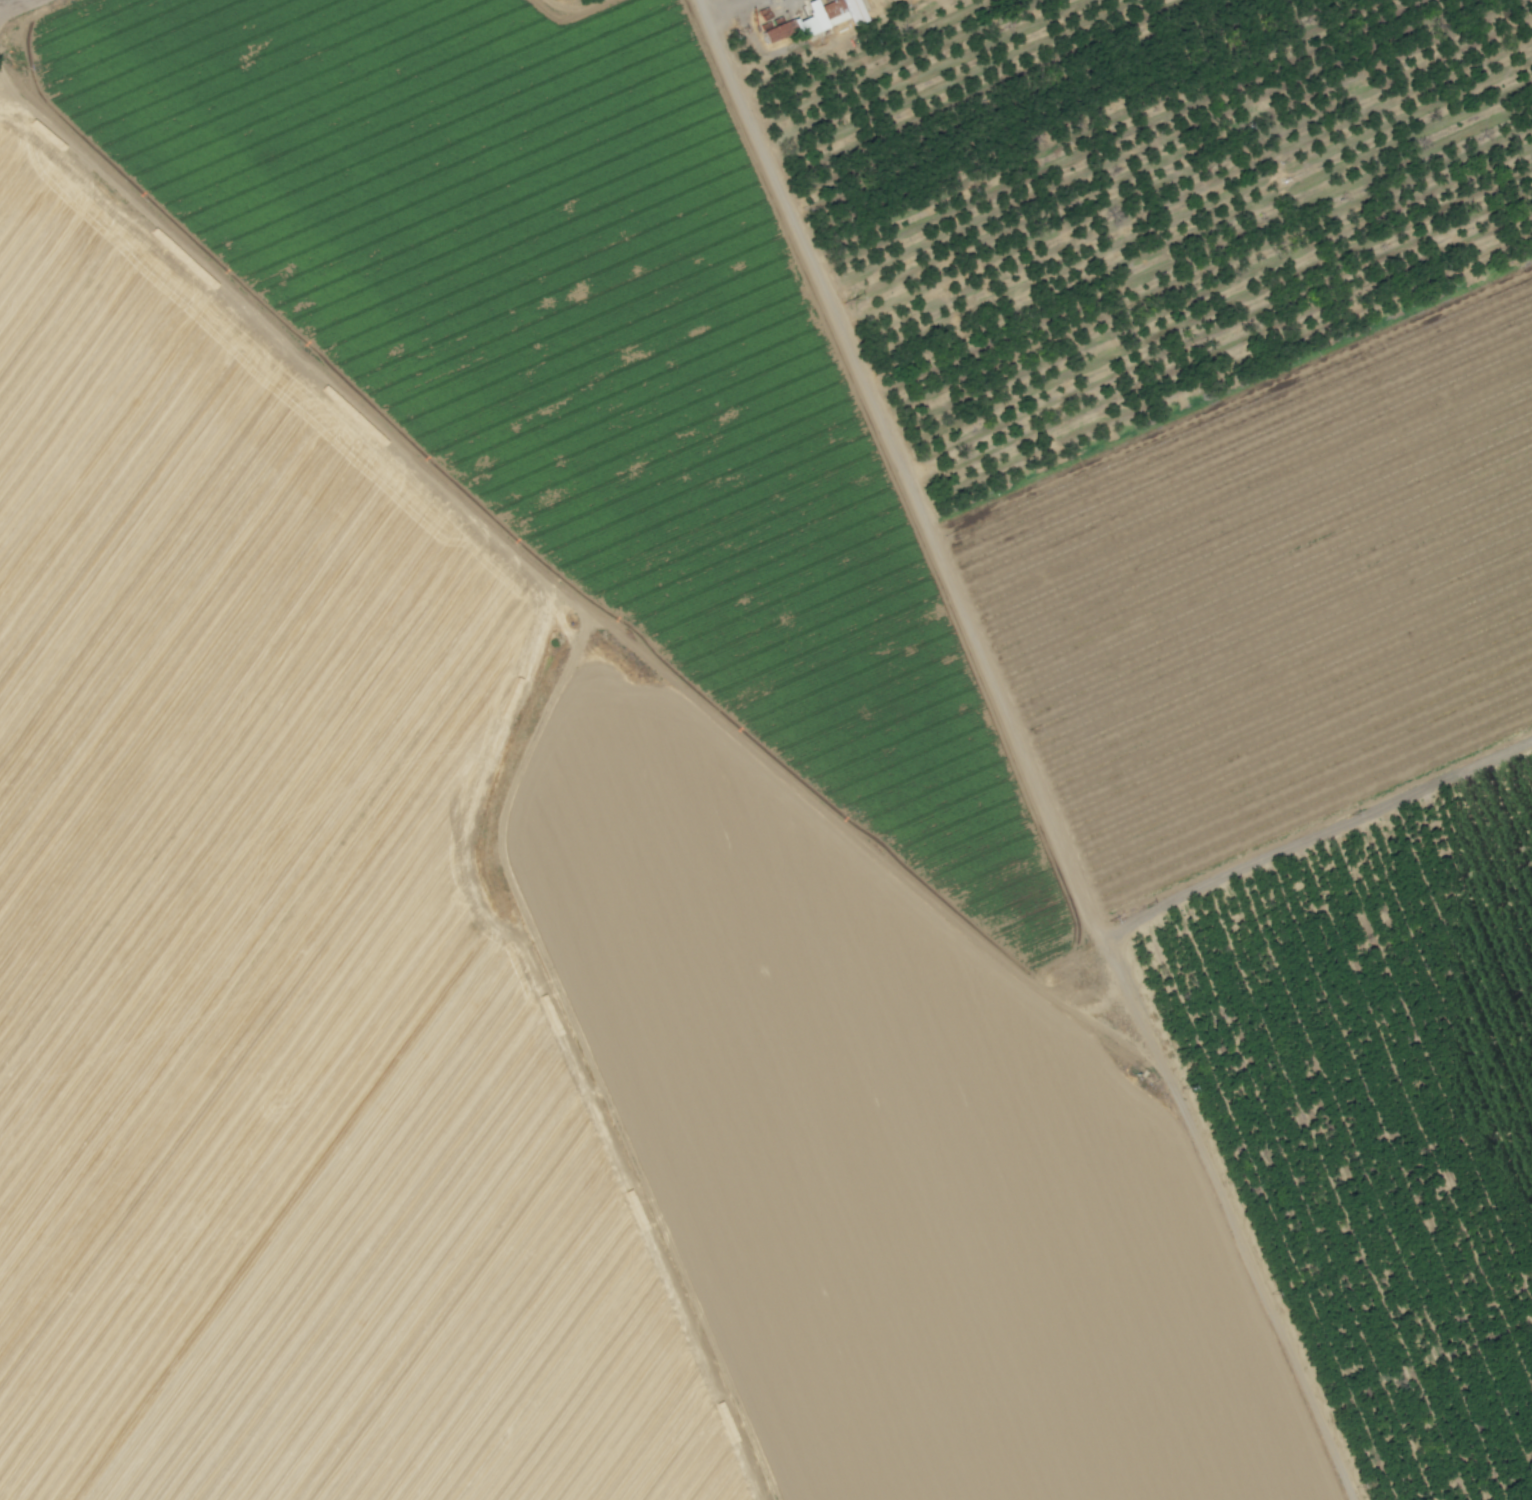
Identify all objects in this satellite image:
road: (19, 8)
building: (852, 10)
building: (817, 16)
building: (774, 31)
road: (556, 586)
road: (1024, 751)
road: (1316, 834)
road: (582, 1060)

